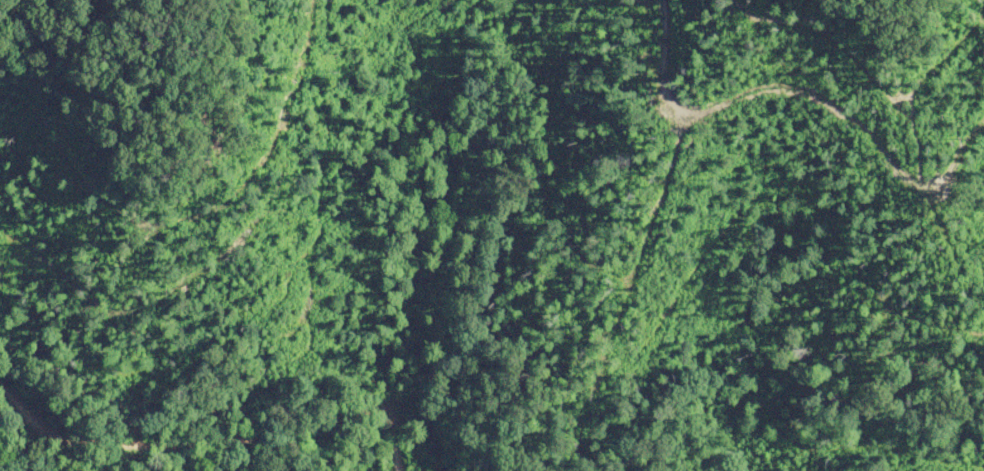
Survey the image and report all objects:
road: (238, 438)

